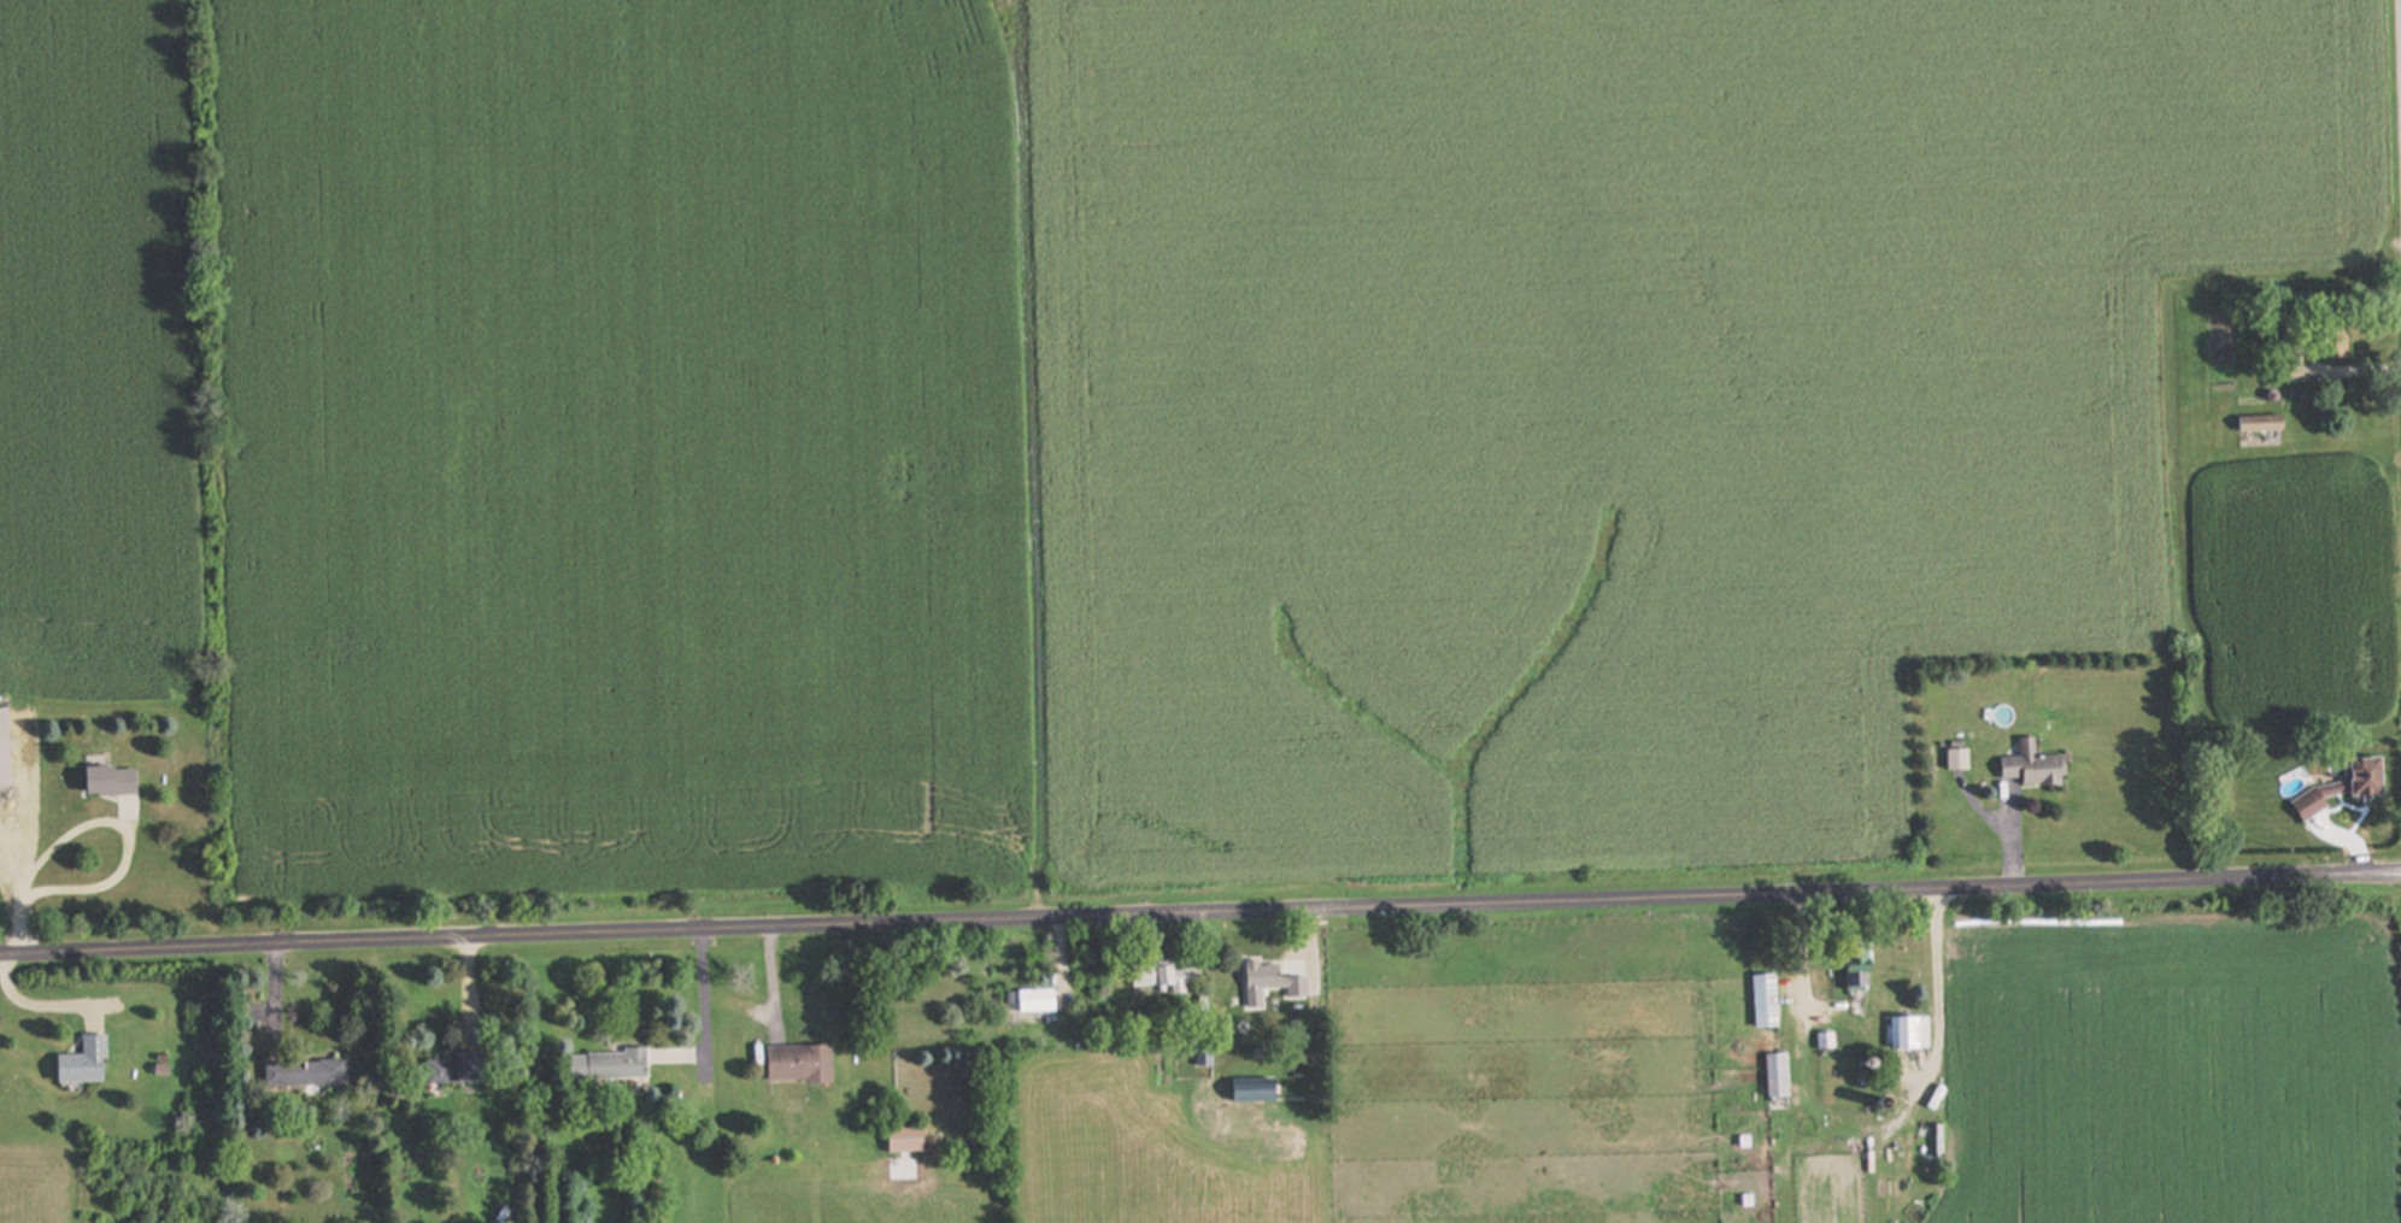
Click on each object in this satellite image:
building: (2267, 425)
building: (7, 748)
building: (1965, 759)
building: (2042, 766)
building: (2376, 775)
building: (118, 780)
road: (25, 858)
road: (1200, 913)
road: (1798, 958)
building: (1865, 975)
building: (1188, 980)
building: (1279, 980)
building: (1043, 1001)
building: (1772, 1001)
road: (1938, 1012)
building: (1915, 1033)
building: (1209, 1056)
building: (1849, 1059)
building: (89, 1063)
building: (805, 1064)
building: (616, 1066)
building: (465, 1068)
building: (312, 1074)
building: (1783, 1076)
building: (1251, 1093)
building: (912, 1140)

